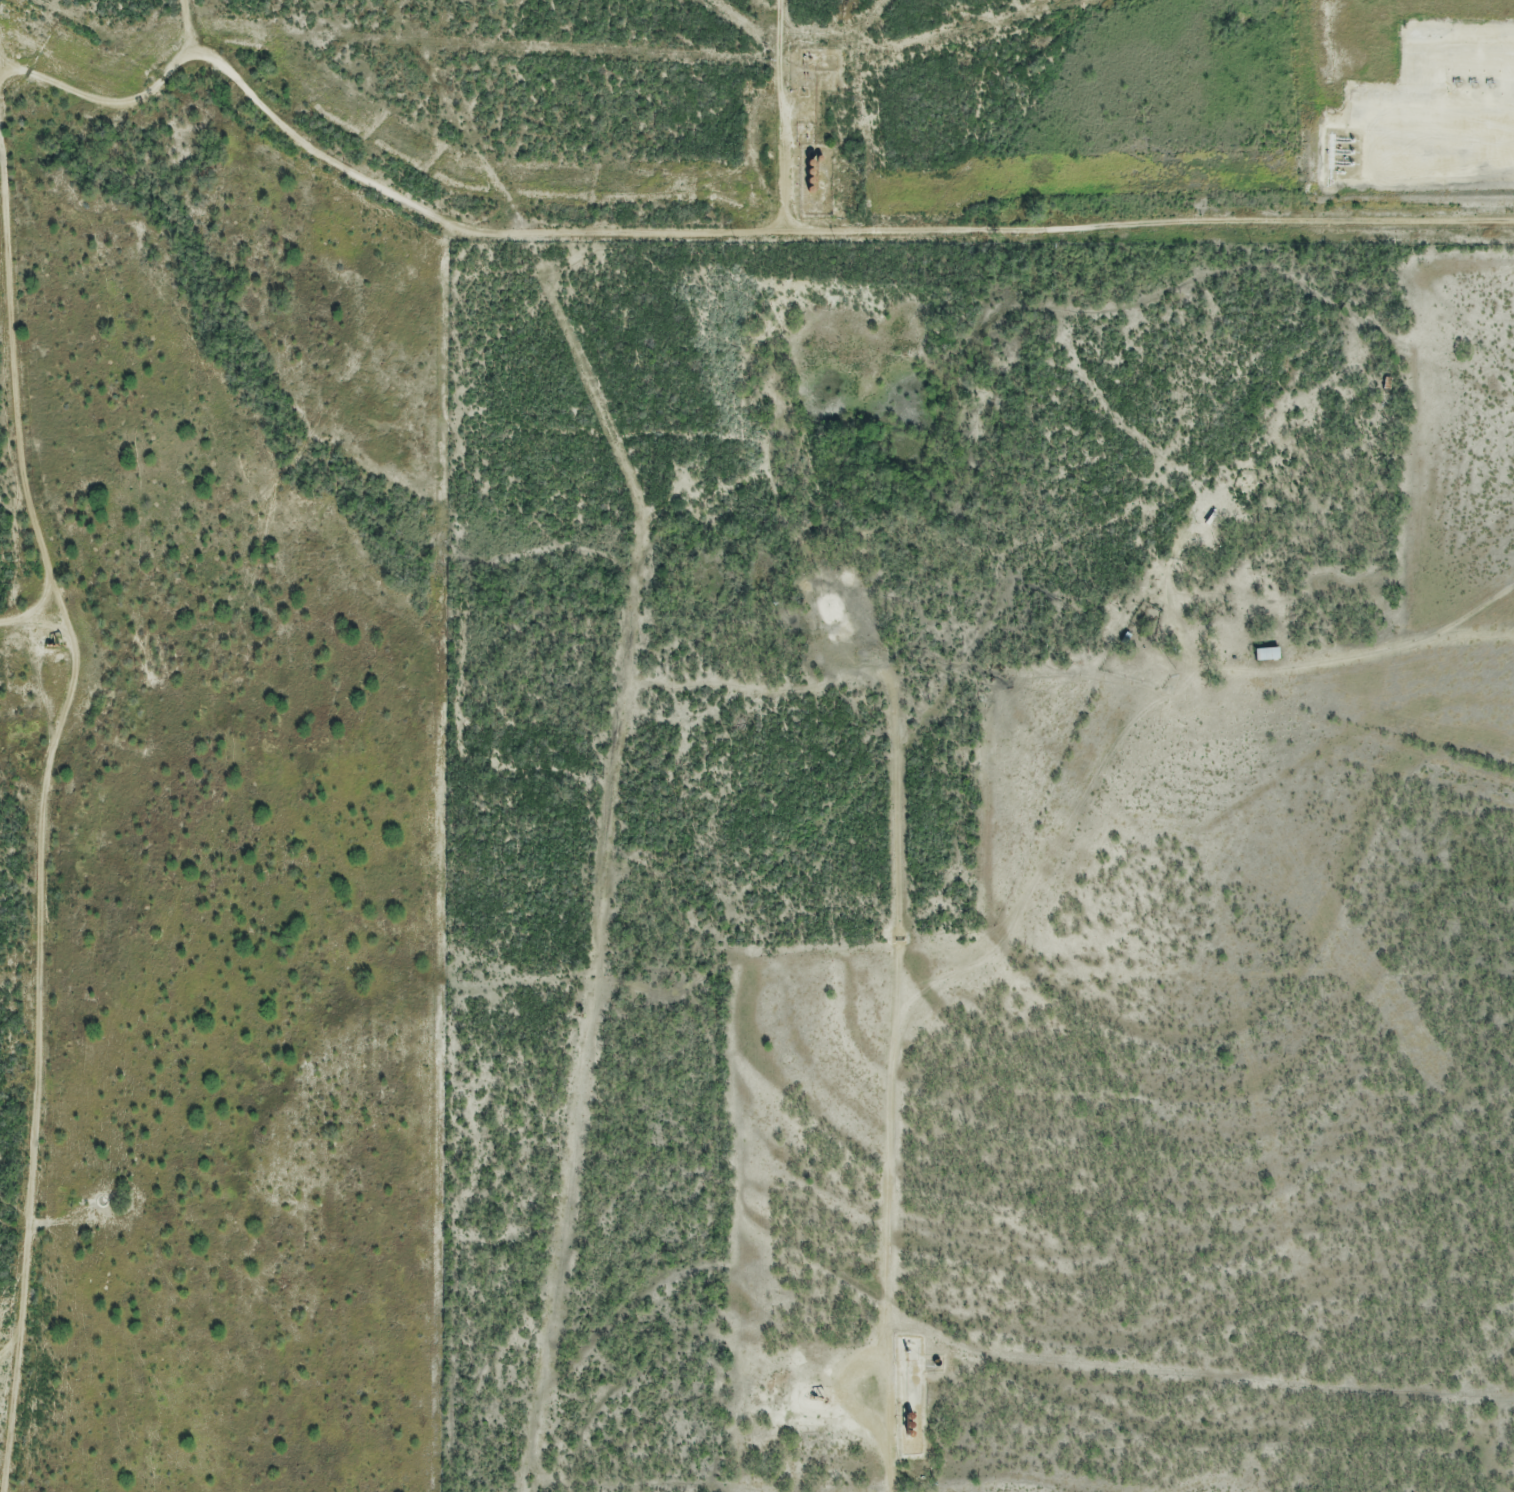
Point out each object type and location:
building: (1267, 654)

